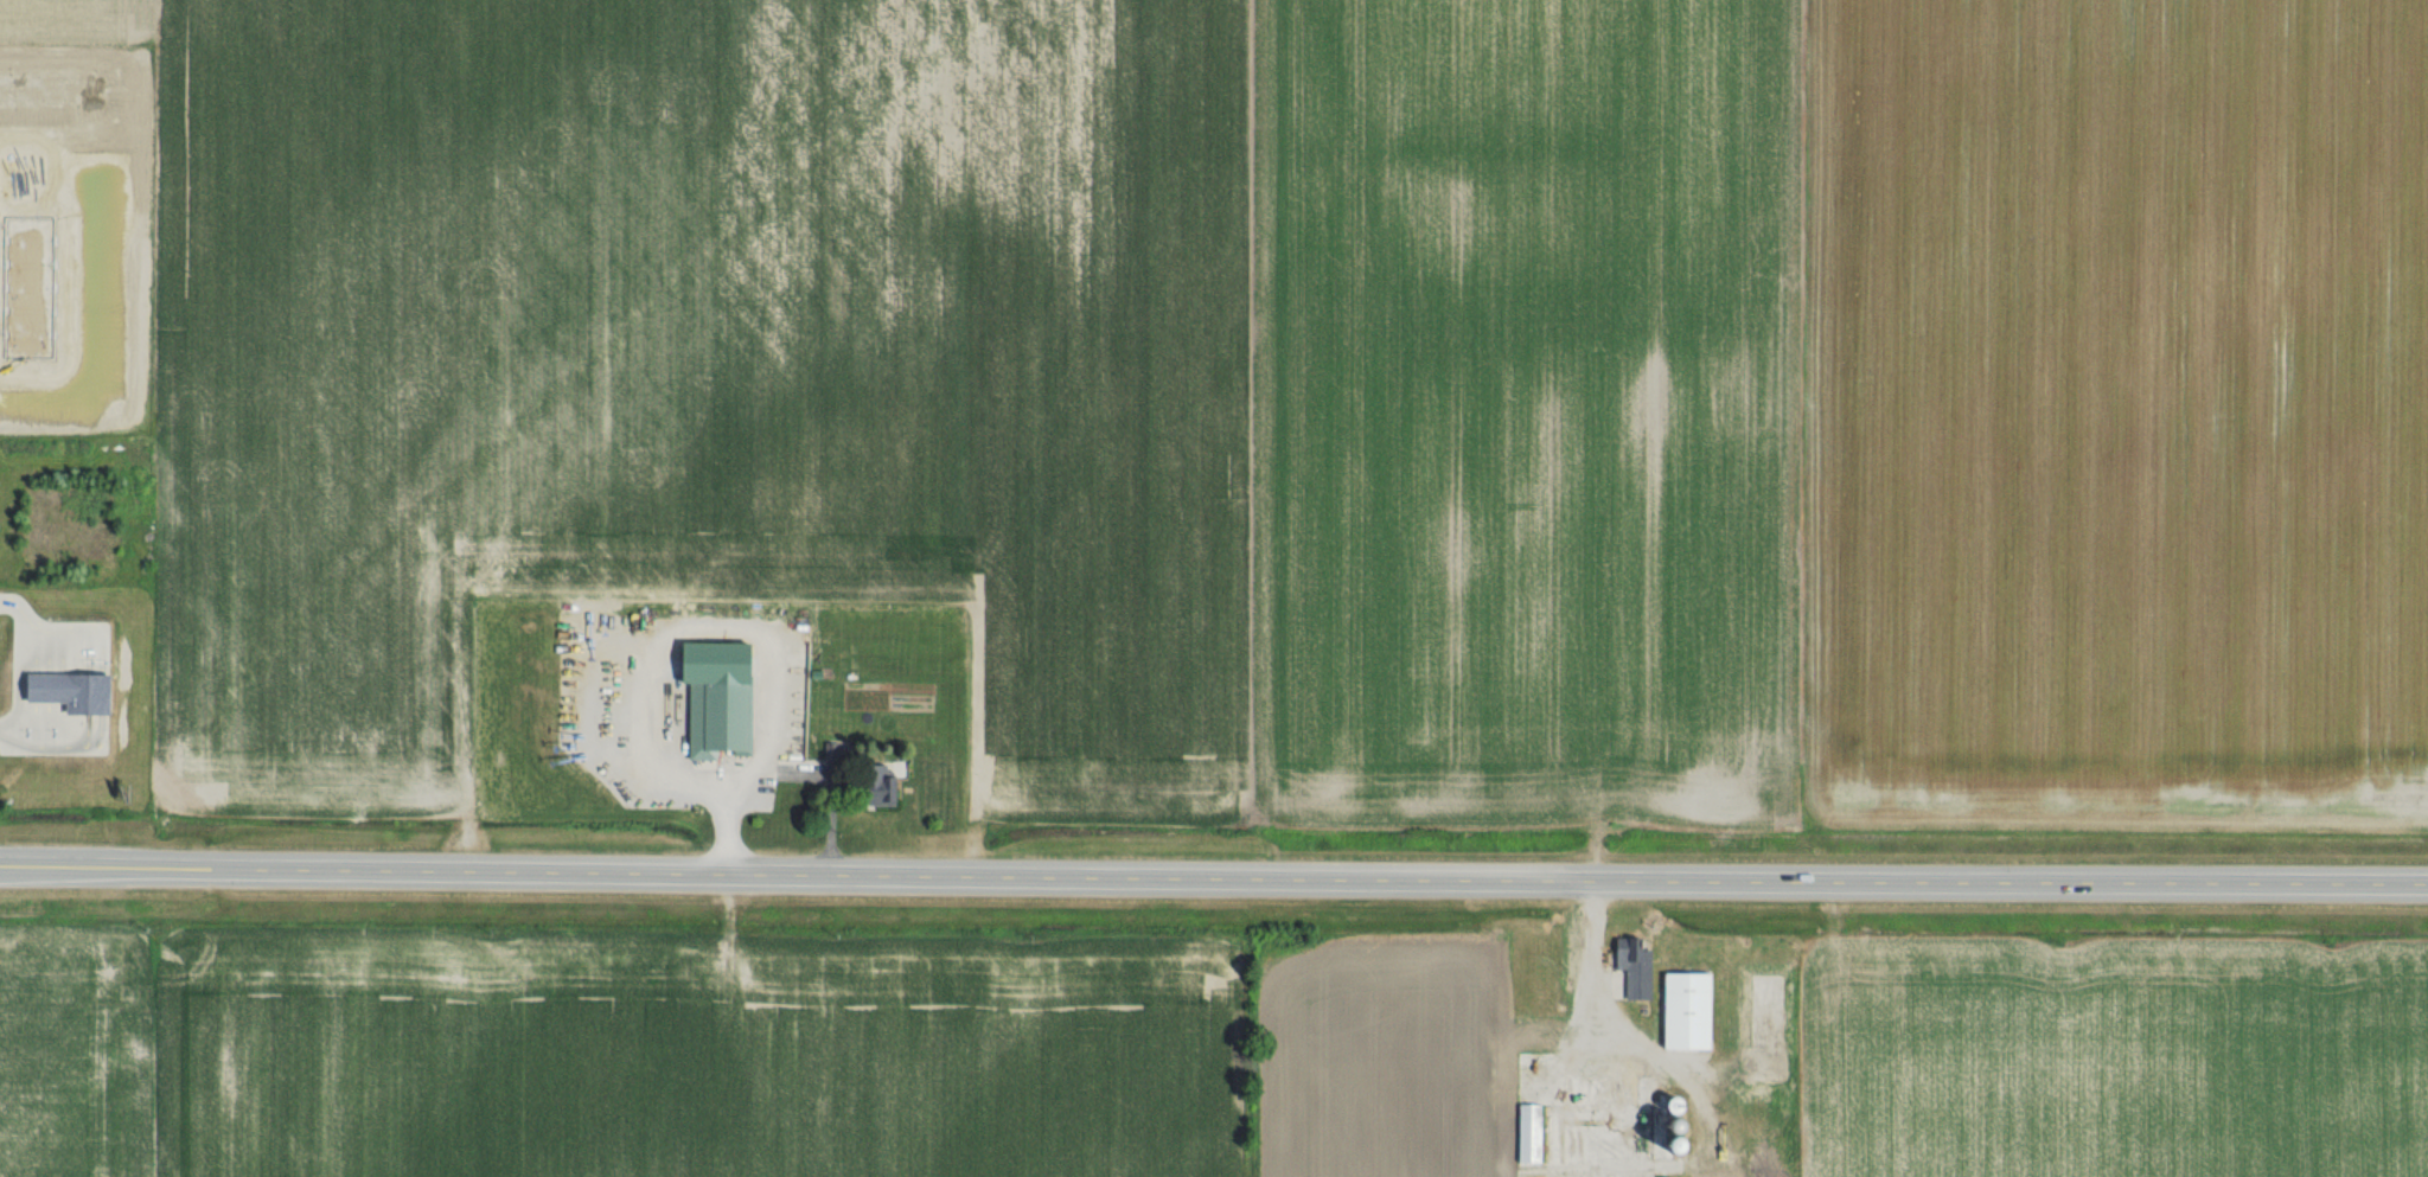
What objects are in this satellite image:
road: (643, 648)
road: (17, 663)
building: (60, 691)
building: (718, 717)
building: (874, 786)
road: (1213, 879)
road: (1589, 941)
building: (1629, 970)
building: (1681, 1012)
building: (1523, 1042)
building: (1576, 1113)

